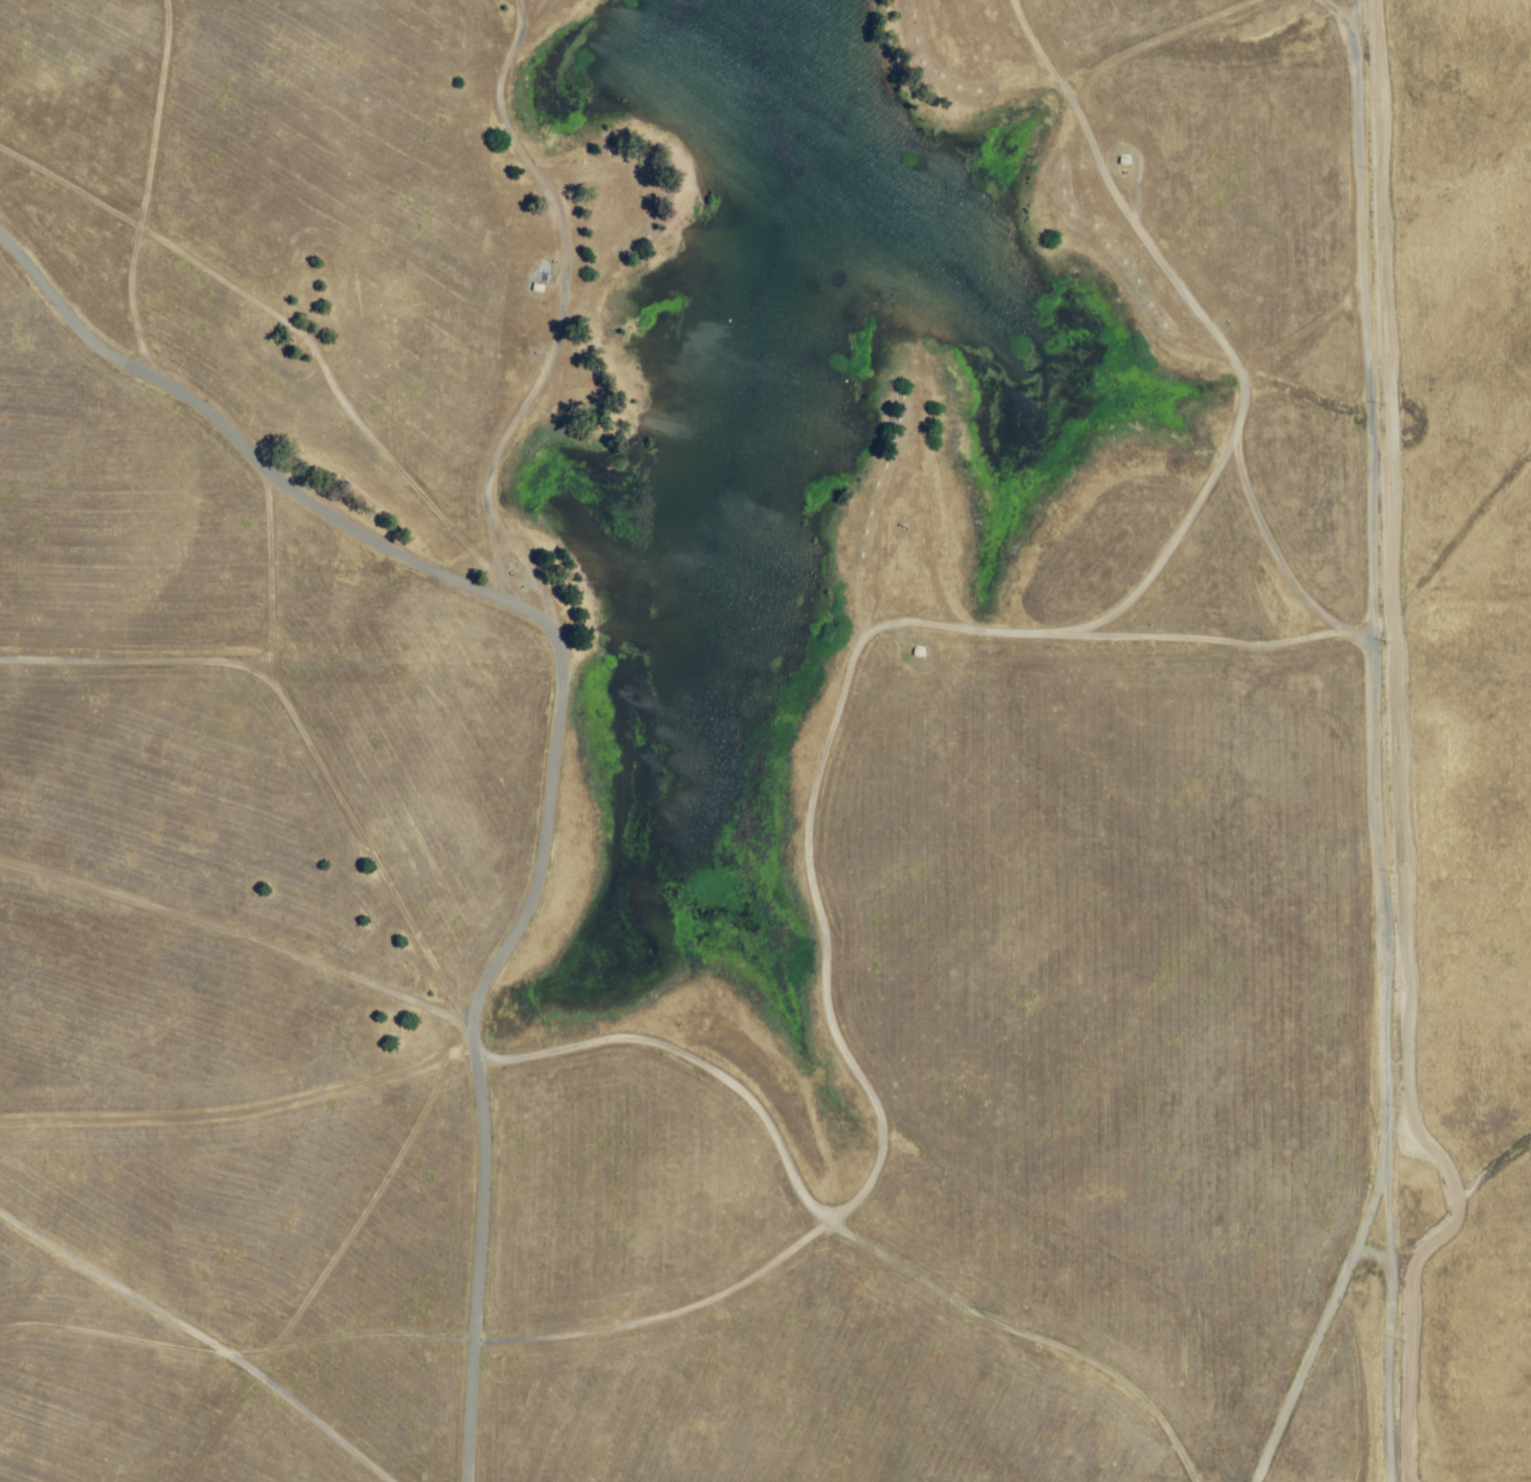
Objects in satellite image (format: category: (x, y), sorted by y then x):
road: (845, 674)
road: (553, 722)
road: (1370, 734)
road: (1367, 1249)
road: (666, 1313)
road: (1320, 1322)

